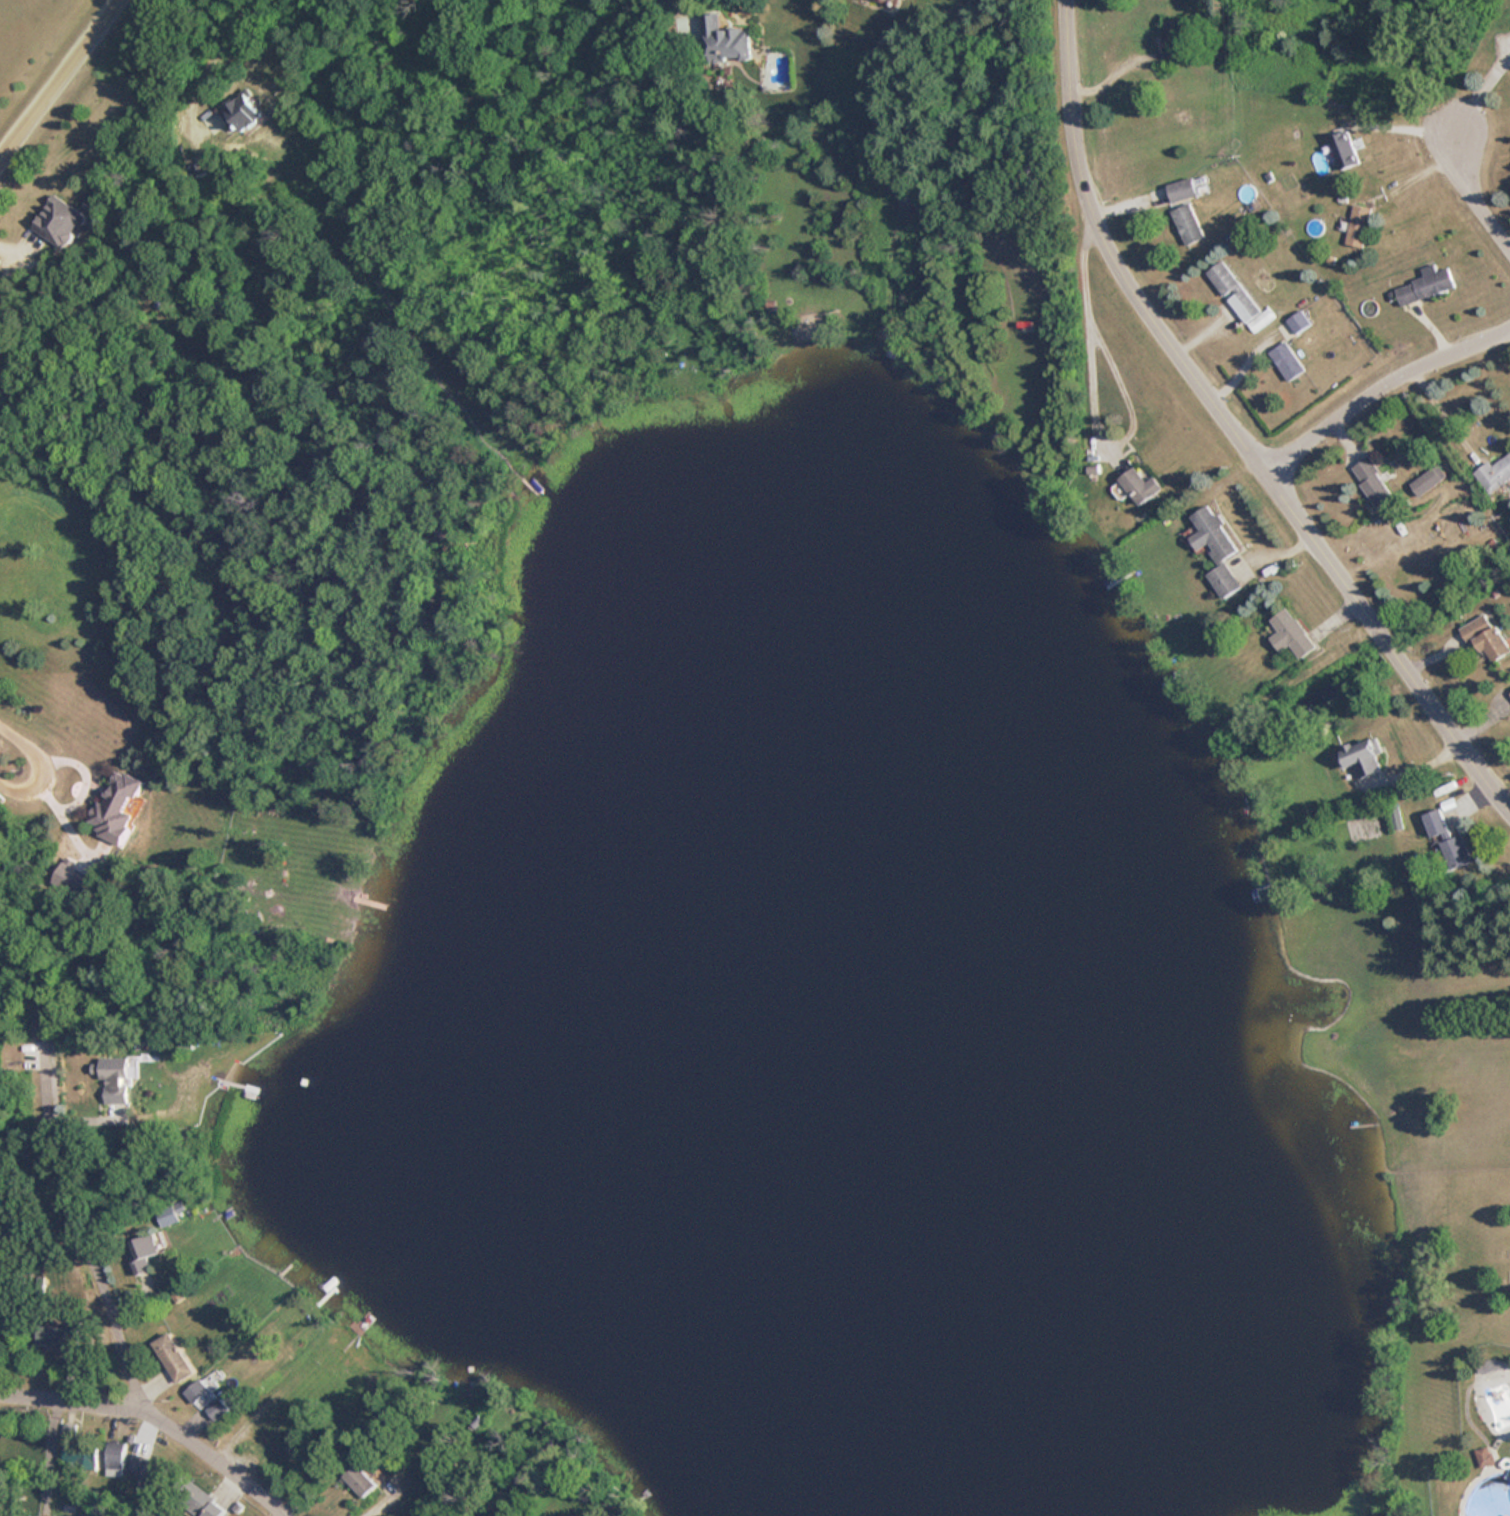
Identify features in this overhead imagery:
building: (892, 0)
park: (15, 18)
building: (1174, 34)
building: (725, 40)
road: (214, 57)
road: (57, 81)
road: (1478, 85)
building: (240, 111)
building: (1373, 144)
building: (1342, 149)
building: (956, 182)
road: (1474, 187)
building: (1181, 190)
building: (58, 221)
building: (1187, 224)
building: (1357, 225)
building: (1425, 284)
building: (1238, 298)
road: (1087, 333)
road: (1166, 341)
building: (1286, 361)
road: (1379, 384)
road: (1441, 414)
building: (1494, 473)
building: (1427, 480)
building: (1135, 486)
building: (1373, 487)
building: (1214, 549)
building: (1487, 626)
building: (1289, 635)
road: (1390, 649)
building: (1509, 682)
building: (1509, 694)
road: (1454, 737)
building: (1364, 749)
road: (6, 754)
building: (117, 807)
building: (1436, 825)
building: (1451, 829)
building: (1456, 852)
building: (112, 1079)
park: (1428, 1172)
building: (165, 1216)
building: (143, 1252)
road: (123, 1314)
building: (57, 1339)
building: (174, 1357)
building: (200, 1393)
road: (70, 1400)
water park: (1477, 1437)
building: (115, 1456)
building: (1483, 1456)
building: (151, 1471)
building: (358, 1480)
building: (201, 1500)

